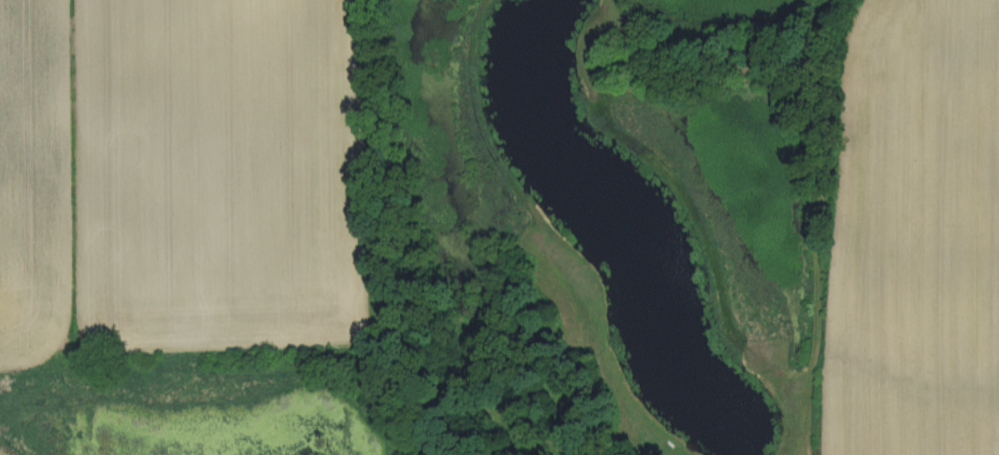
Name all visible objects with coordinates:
road: (814, 225)
road: (510, 436)

